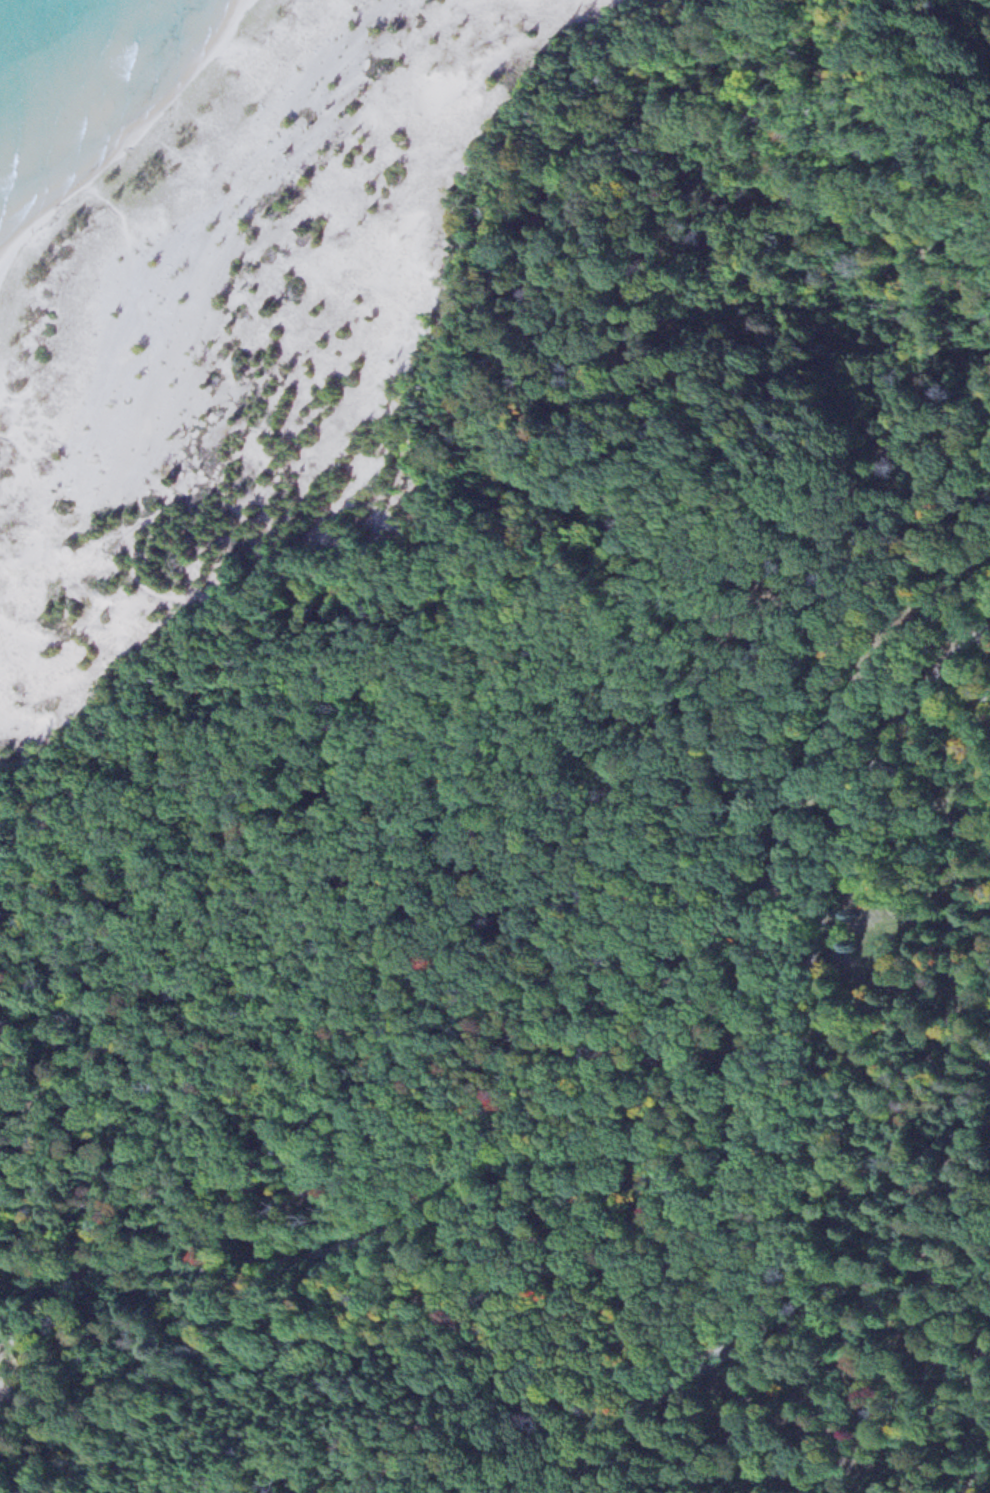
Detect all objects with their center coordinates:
road: (800, 1070)
road: (398, 1223)

